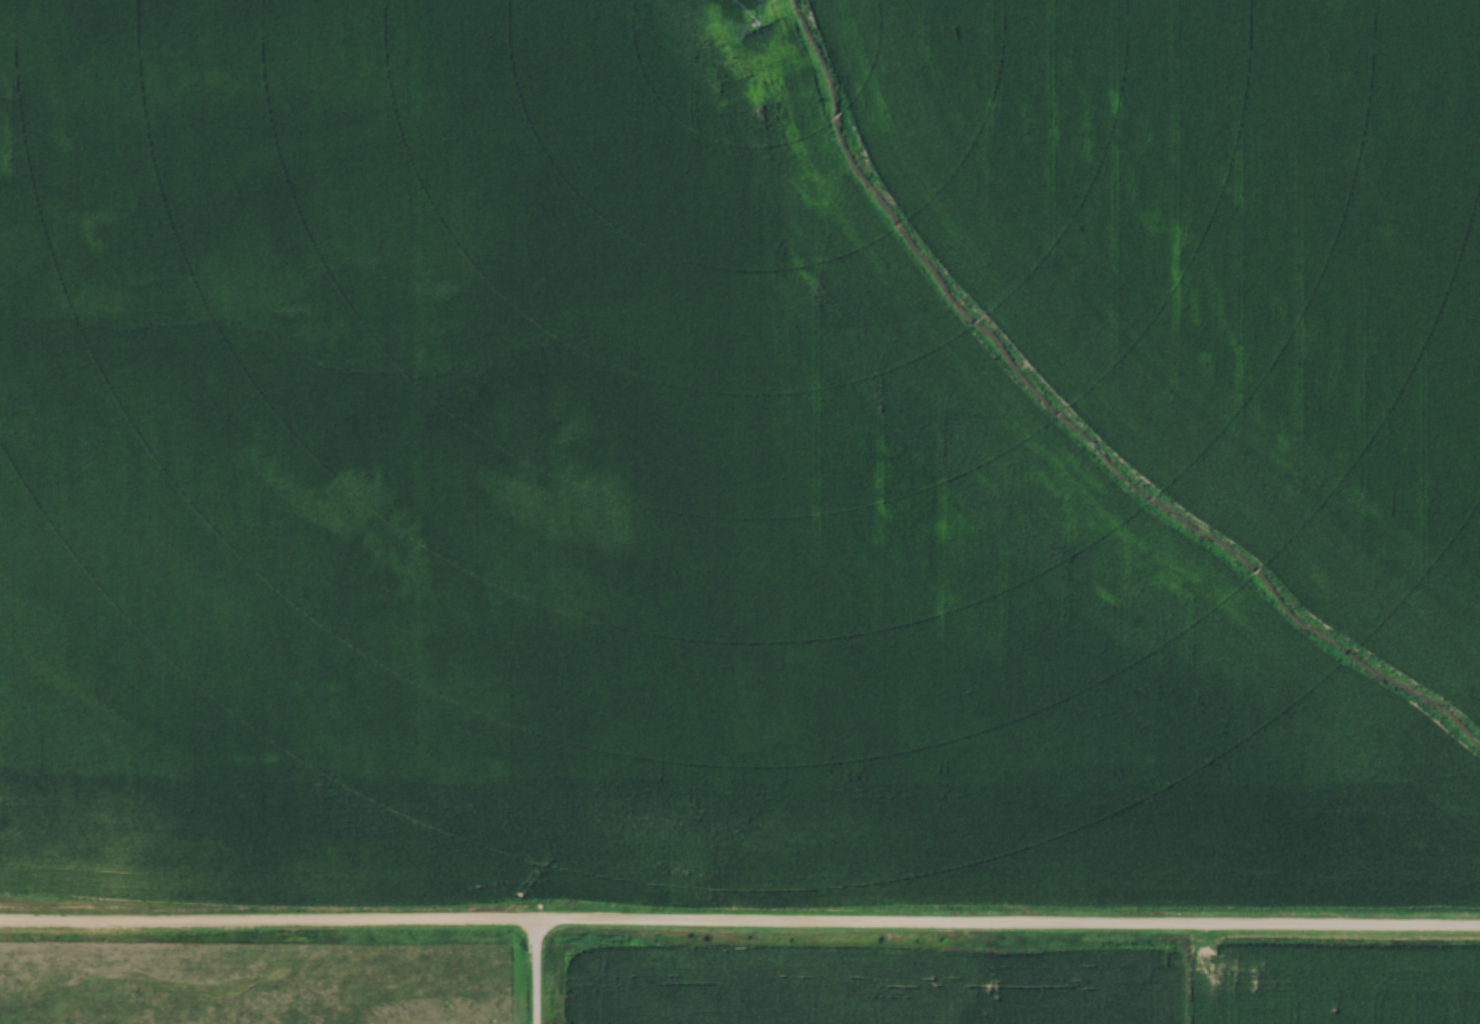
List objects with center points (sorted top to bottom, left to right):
road: (739, 926)
road: (537, 975)

